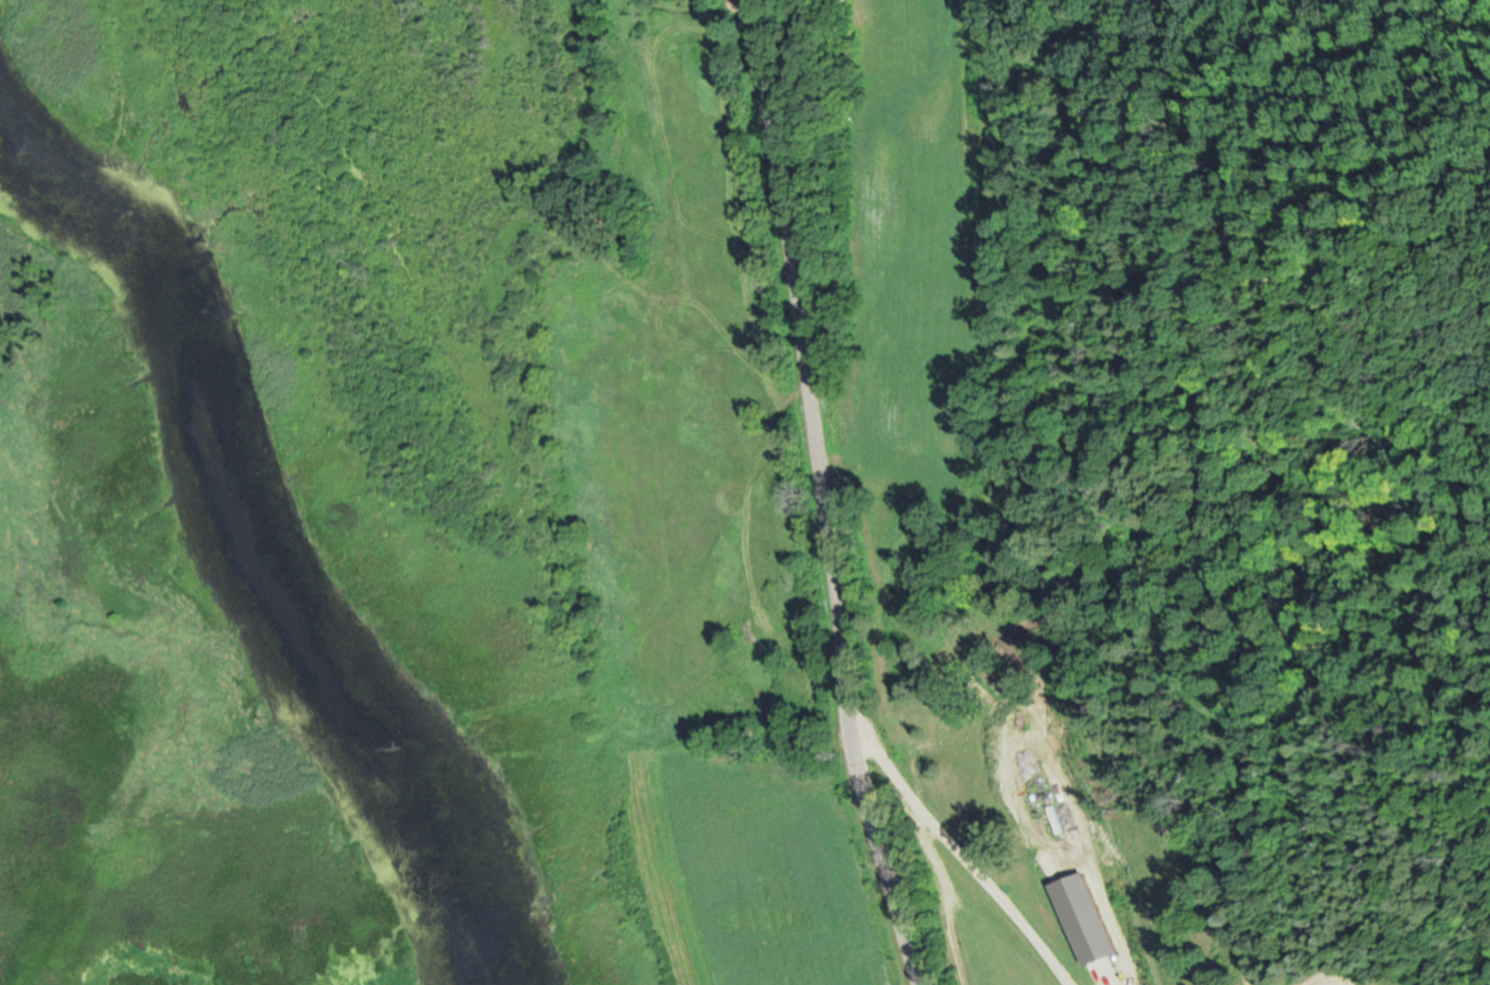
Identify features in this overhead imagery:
road: (741, 14)
road: (783, 499)

